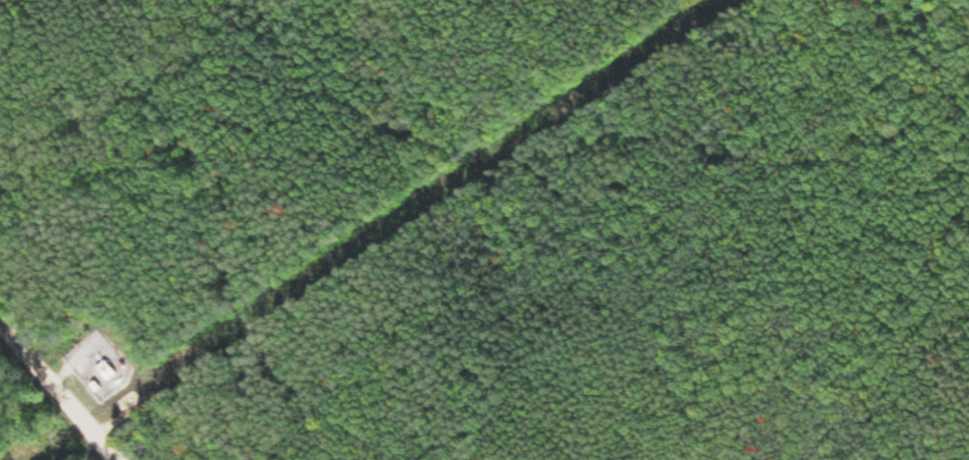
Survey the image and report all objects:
road: (61, 388)

